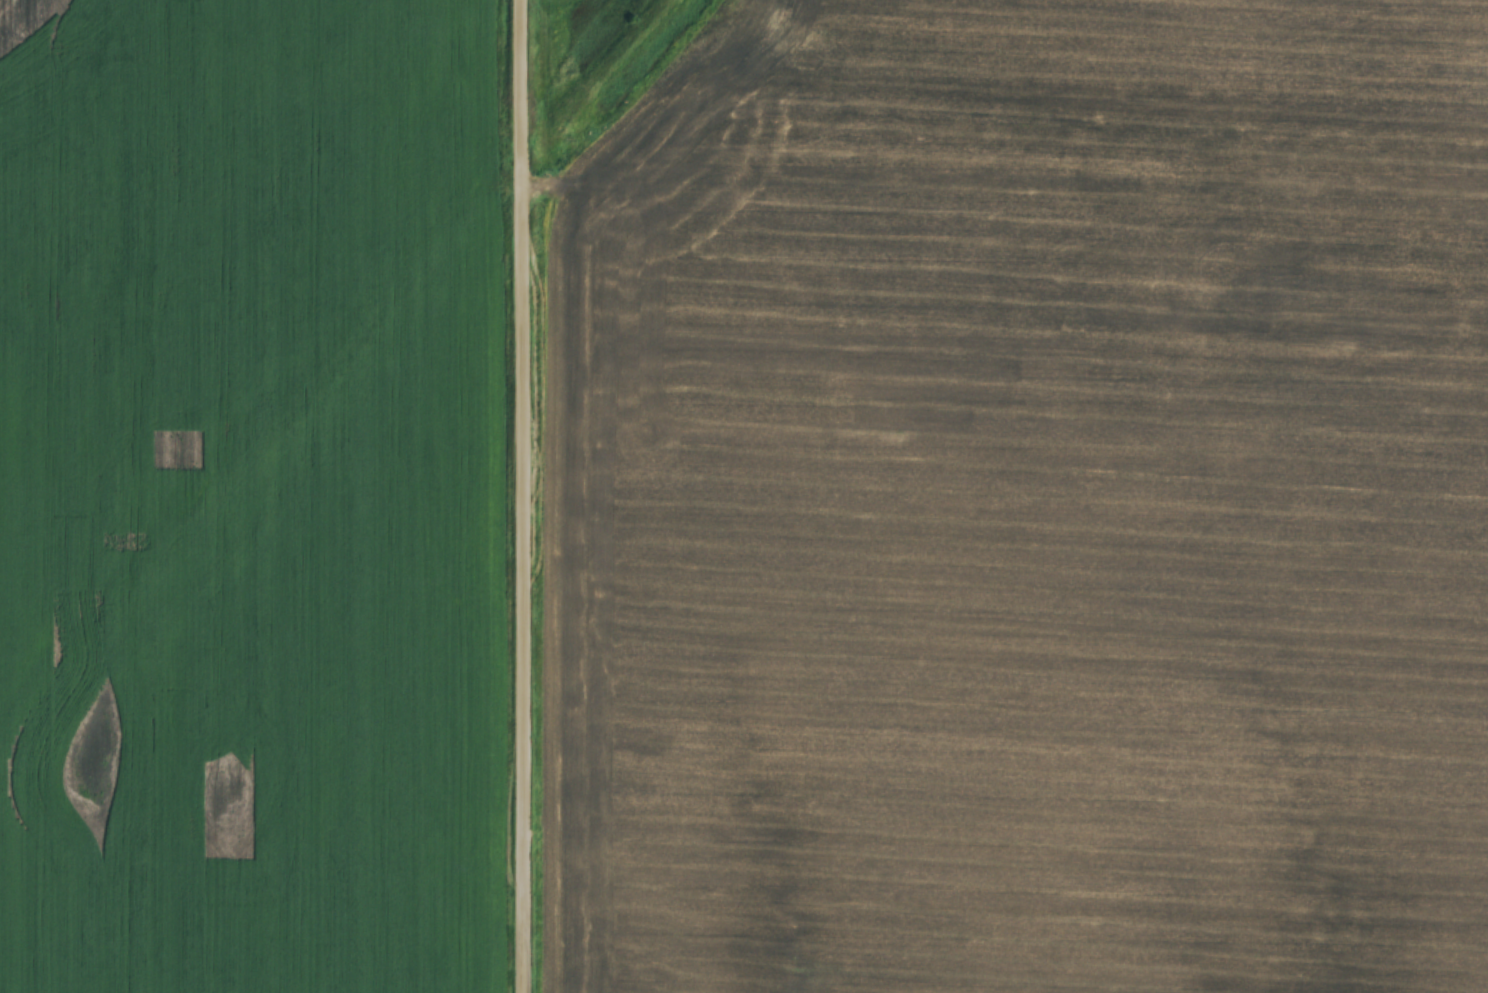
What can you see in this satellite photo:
road: (529, 496)

